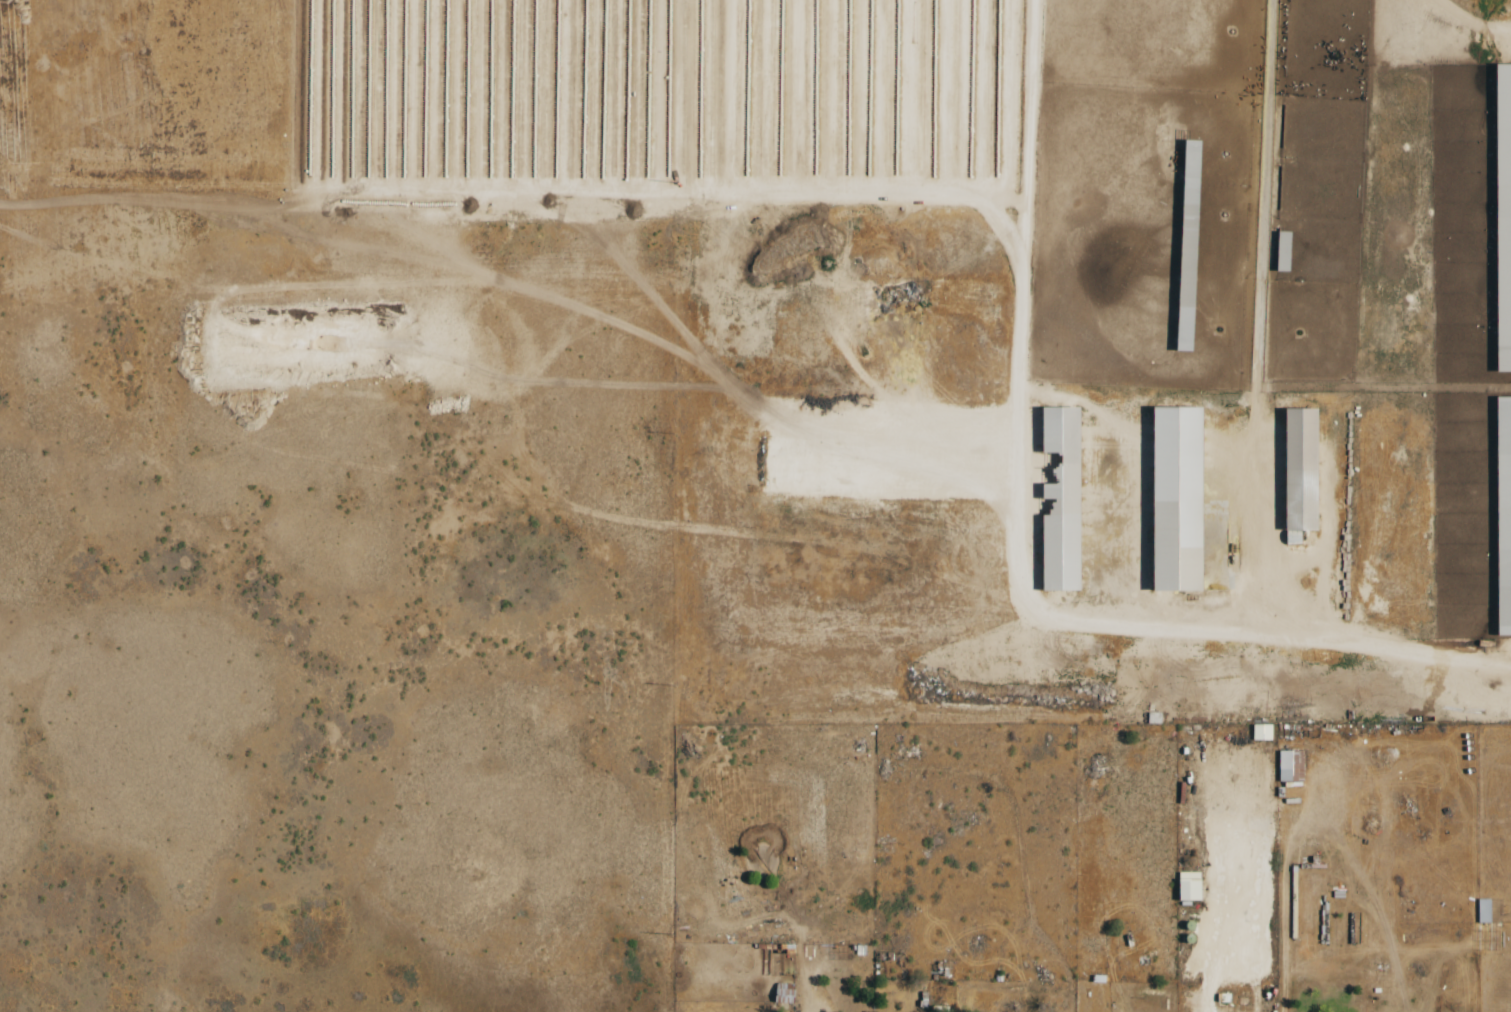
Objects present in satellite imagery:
building: (1502, 215)
building: (1299, 469)
building: (1060, 501)
building: (1503, 514)
building: (1261, 732)
building: (1290, 766)
building: (1188, 886)

